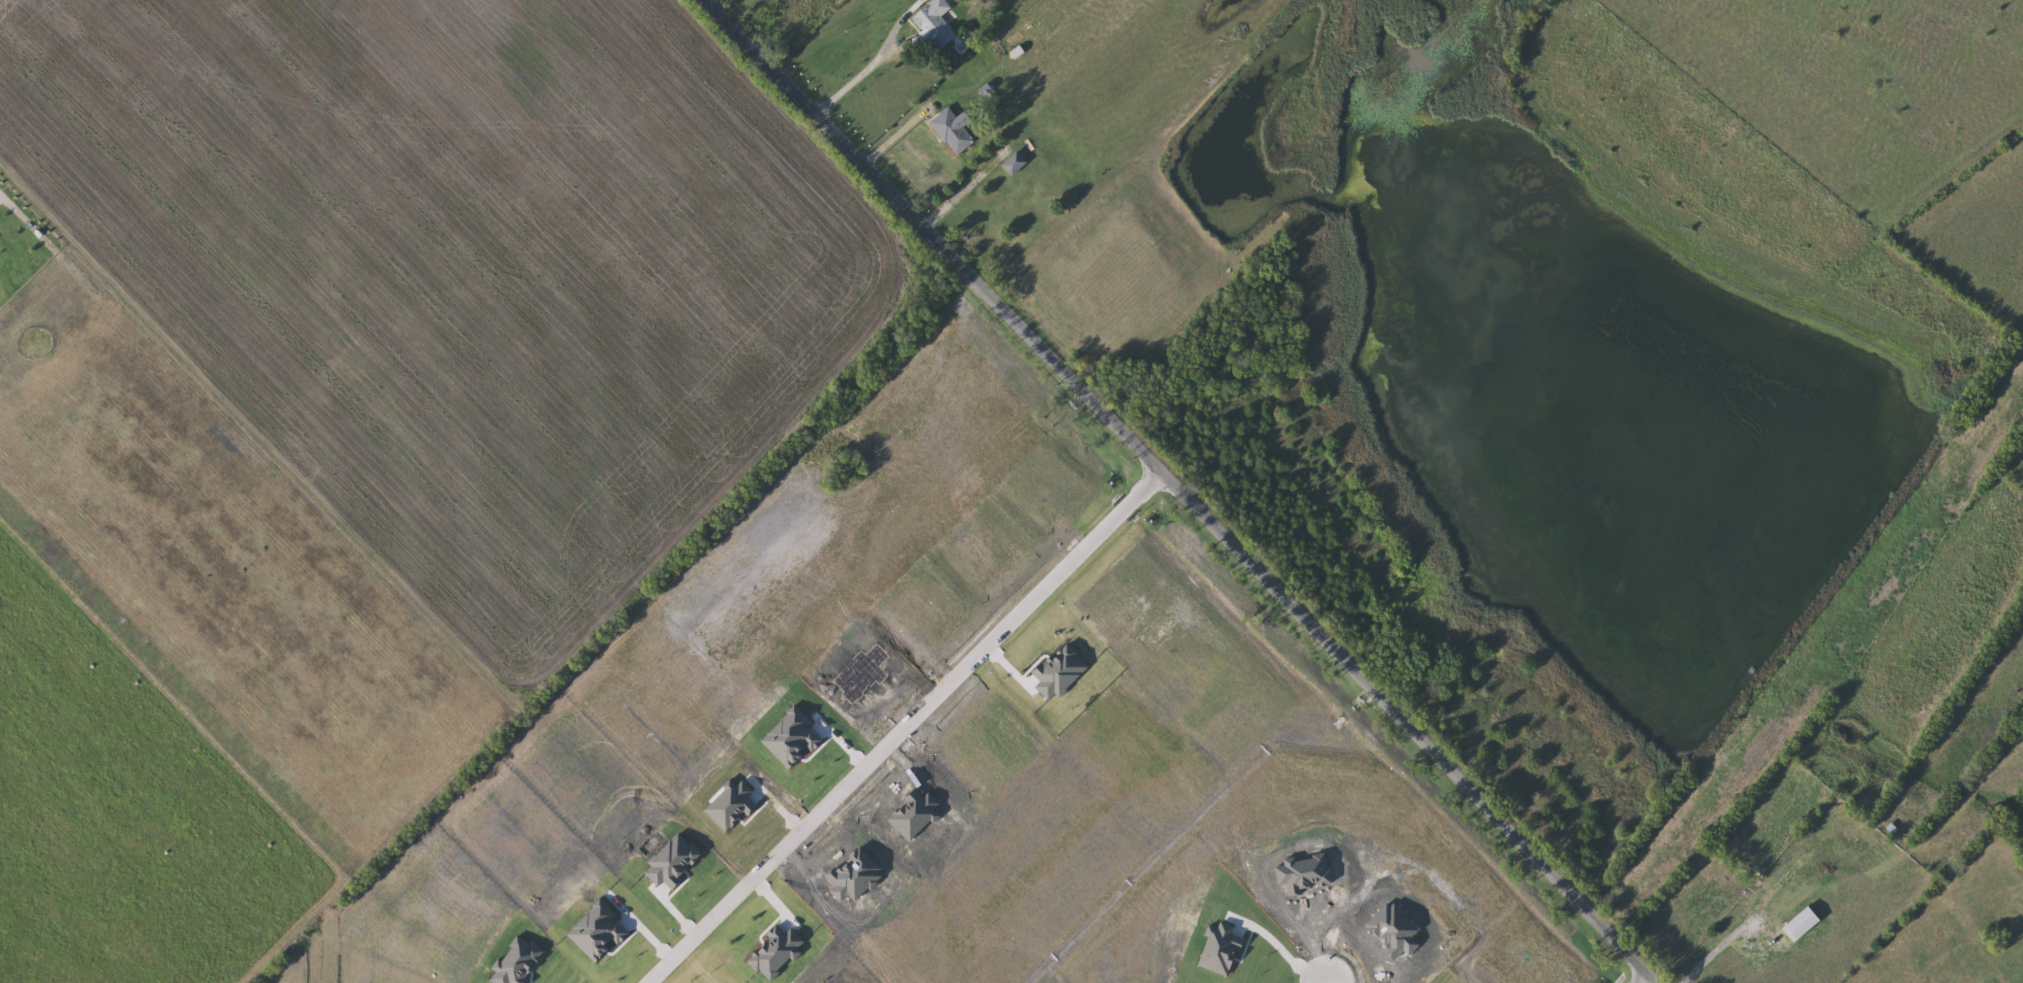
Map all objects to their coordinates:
building: (937, 20)
road: (860, 72)
building: (955, 131)
building: (1016, 164)
road: (28, 220)
road: (1183, 491)
road: (901, 727)
building: (1804, 924)
road: (1339, 976)
road: (1642, 976)

